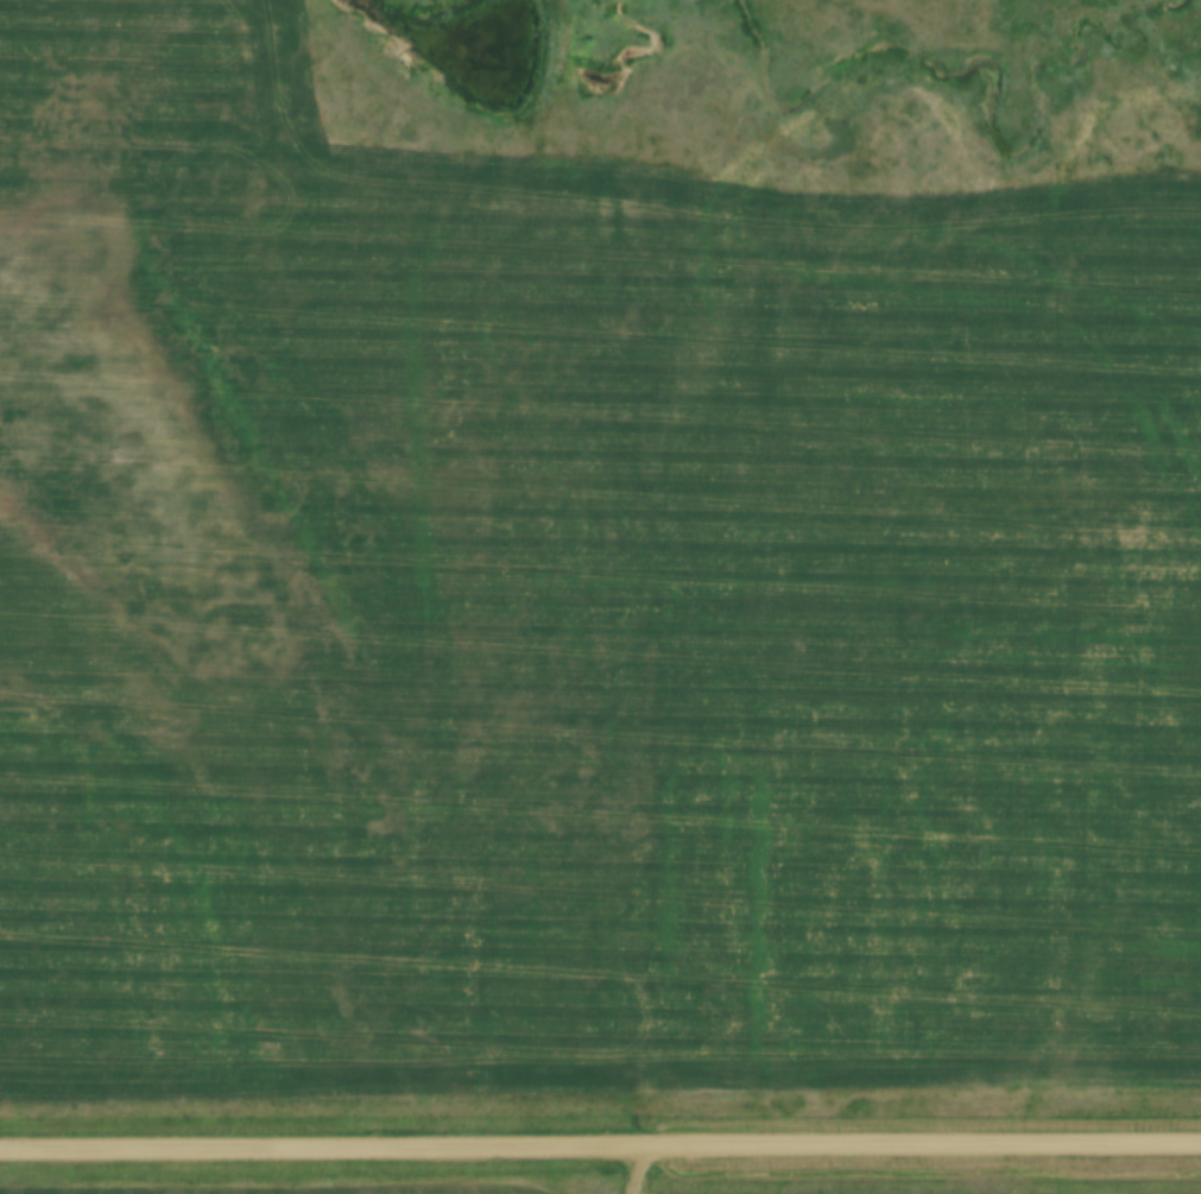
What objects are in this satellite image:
road: (600, 1145)
road: (652, 1169)

